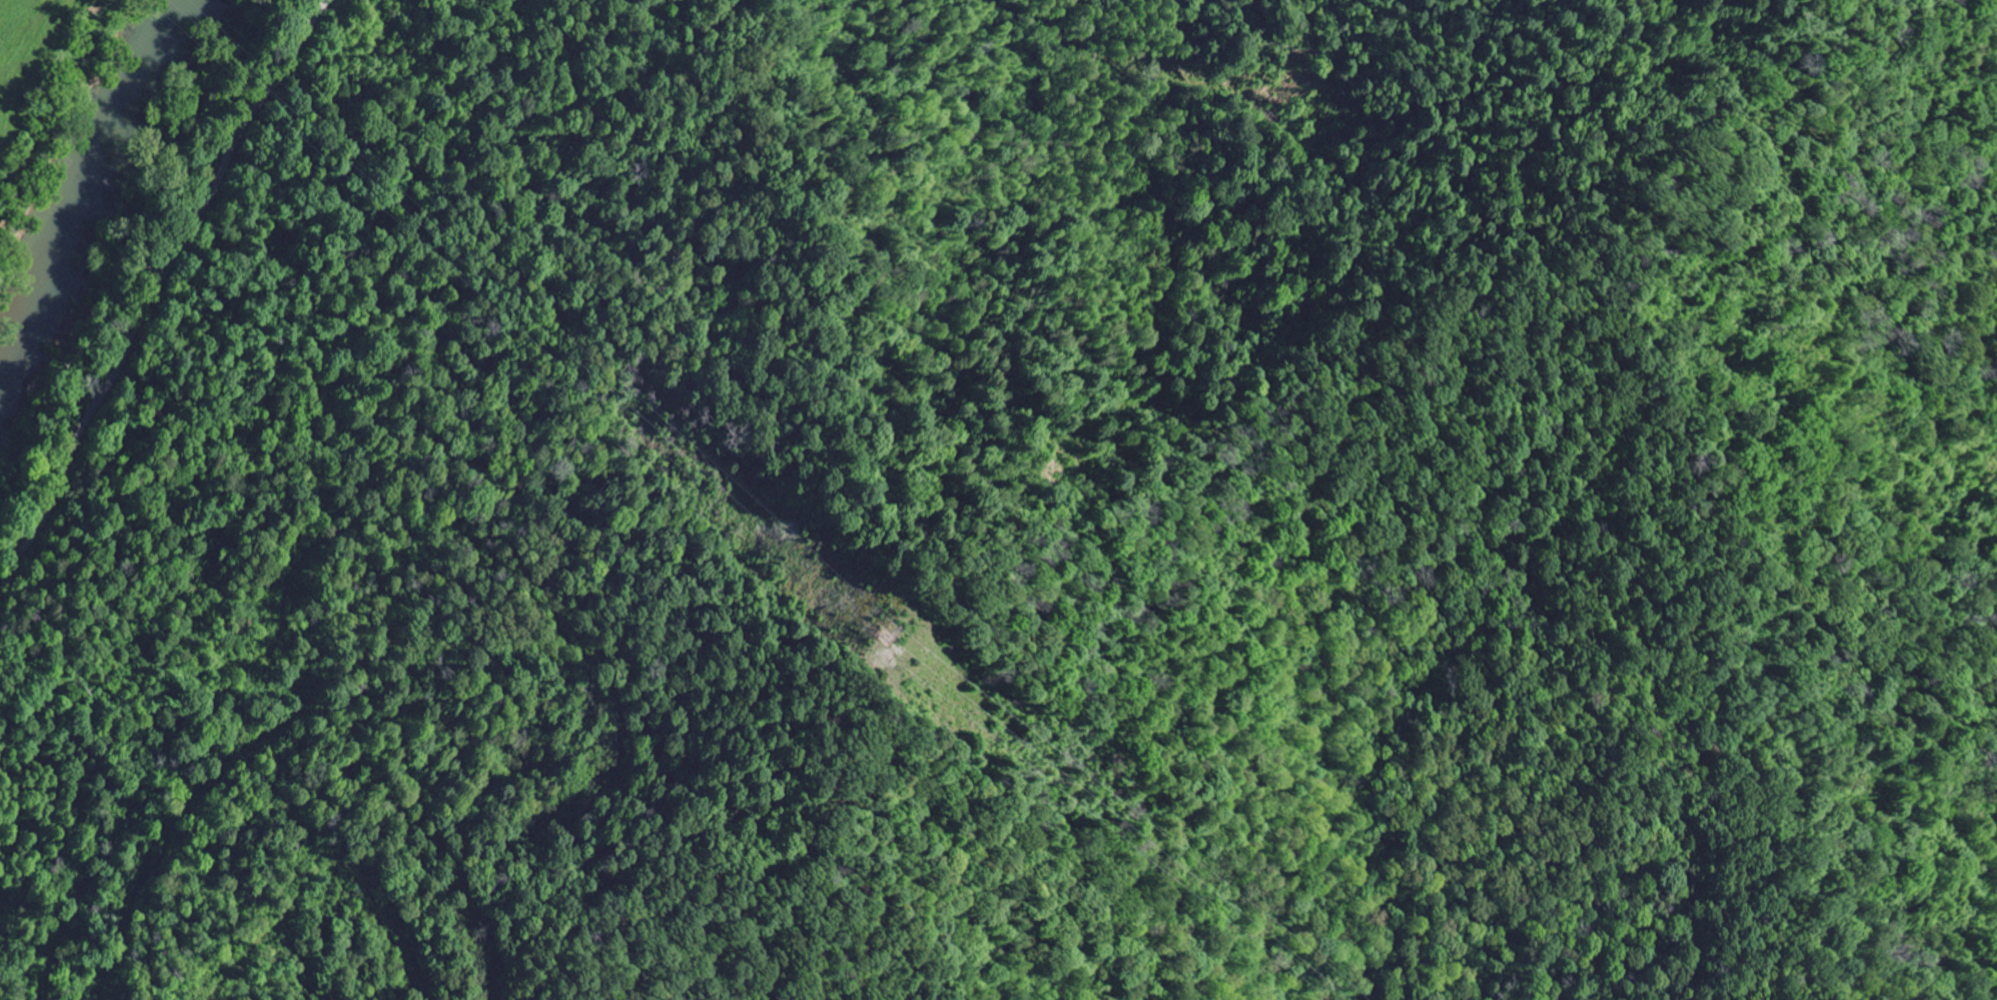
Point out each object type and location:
river: (82, 183)
road: (156, 289)
power tower: (880, 643)

